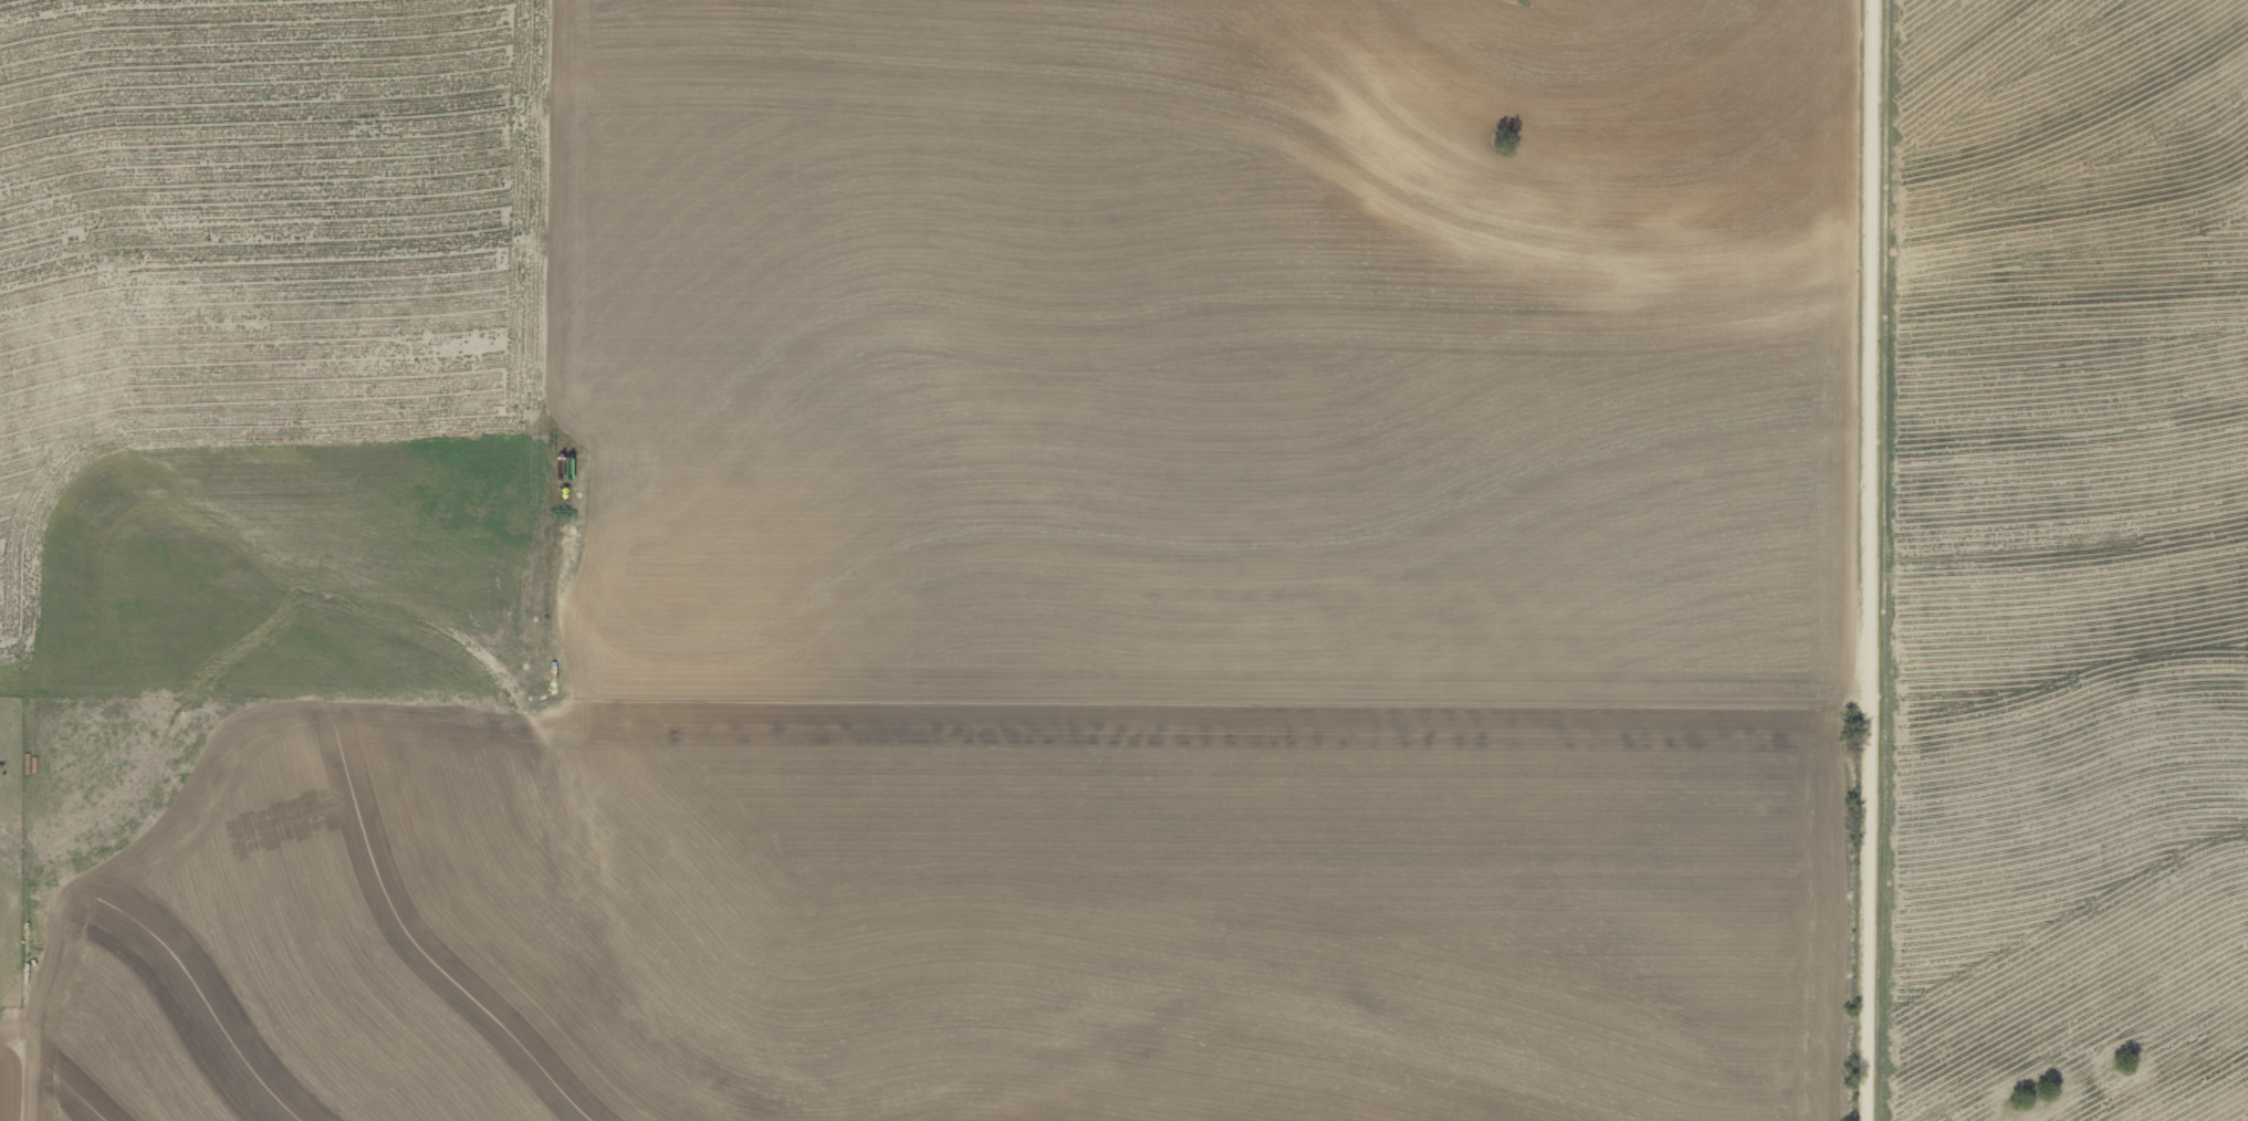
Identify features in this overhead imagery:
road: (1883, 560)

